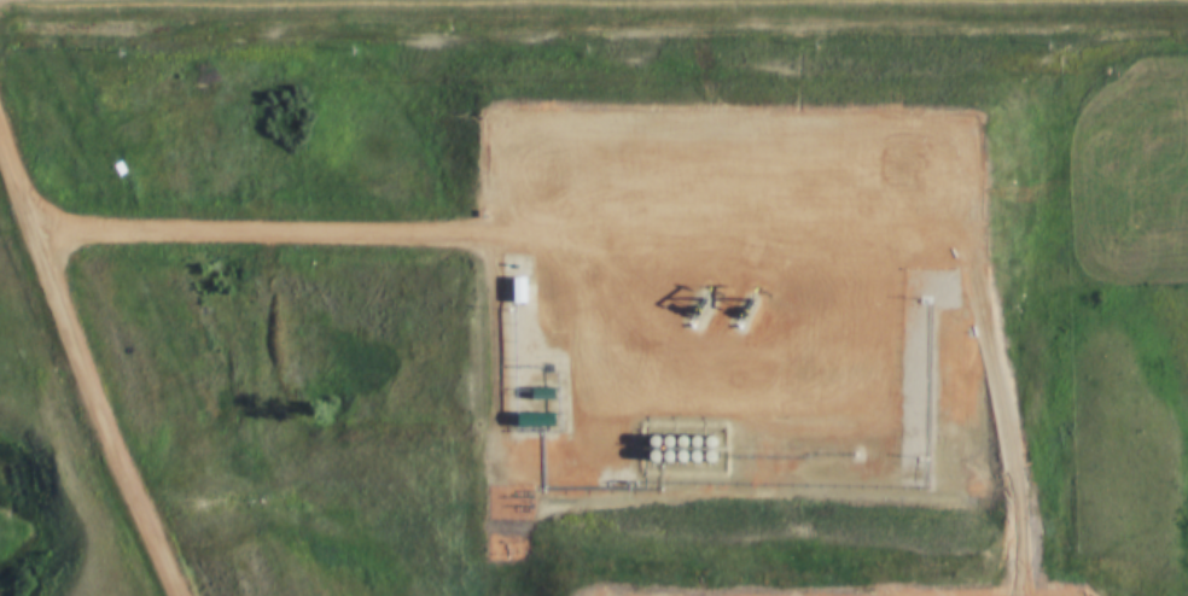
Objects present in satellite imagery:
road: (80, 374)

